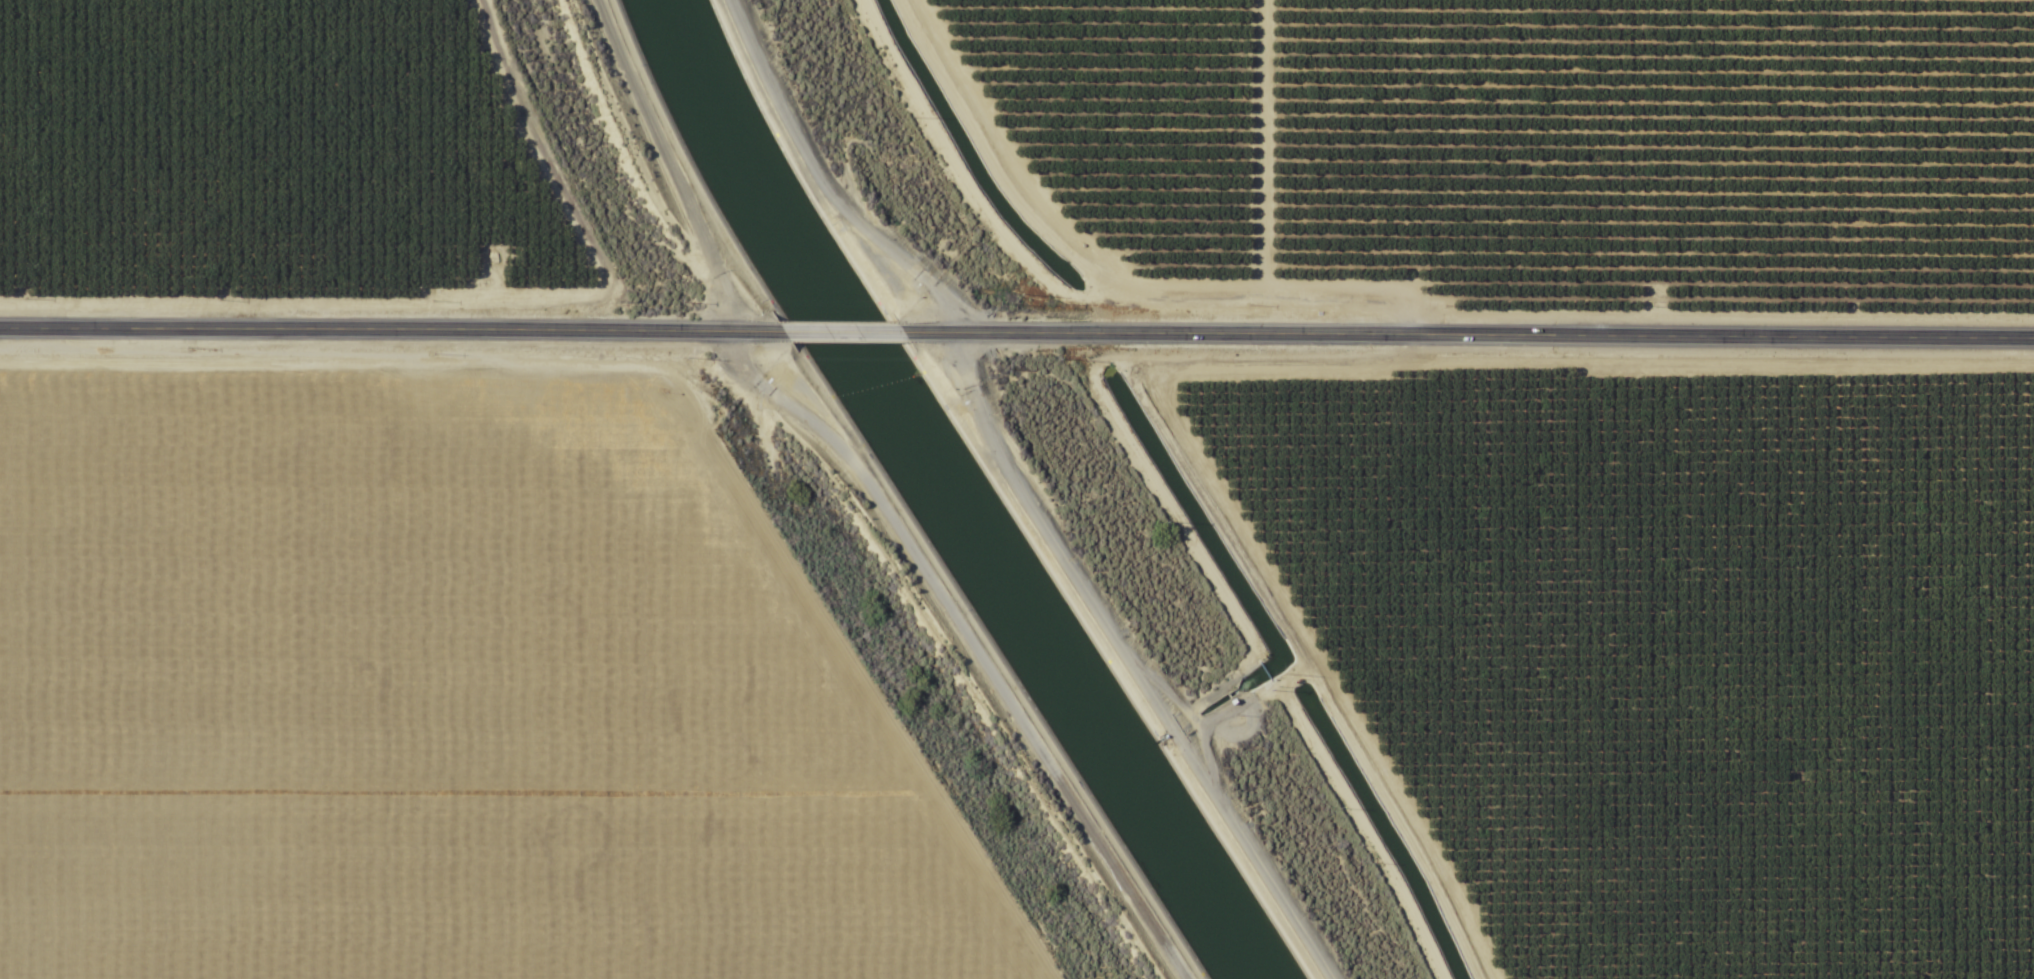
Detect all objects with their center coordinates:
crop: (1474, 153)
road: (627, 176)
road: (1106, 270)
road: (389, 330)
road: (841, 331)
road: (1157, 332)
road: (1722, 336)
crop: (1604, 435)
road: (1062, 488)
crop: (396, 553)
road: (951, 646)
crop: (1660, 651)

